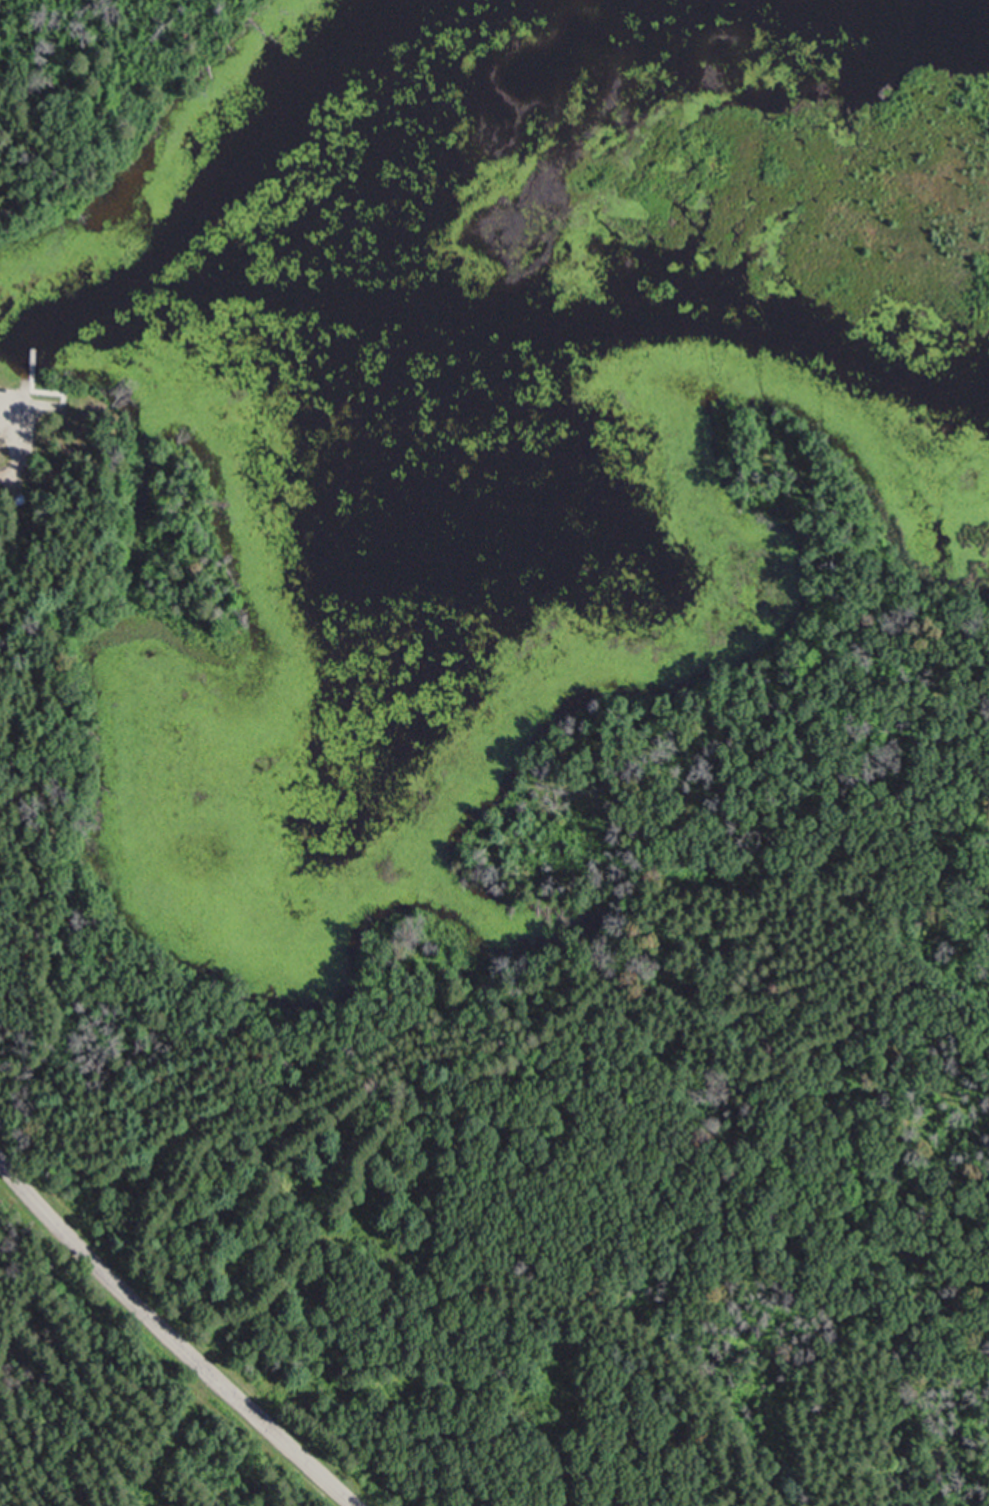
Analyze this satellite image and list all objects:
road: (19, 468)
road: (172, 1337)

